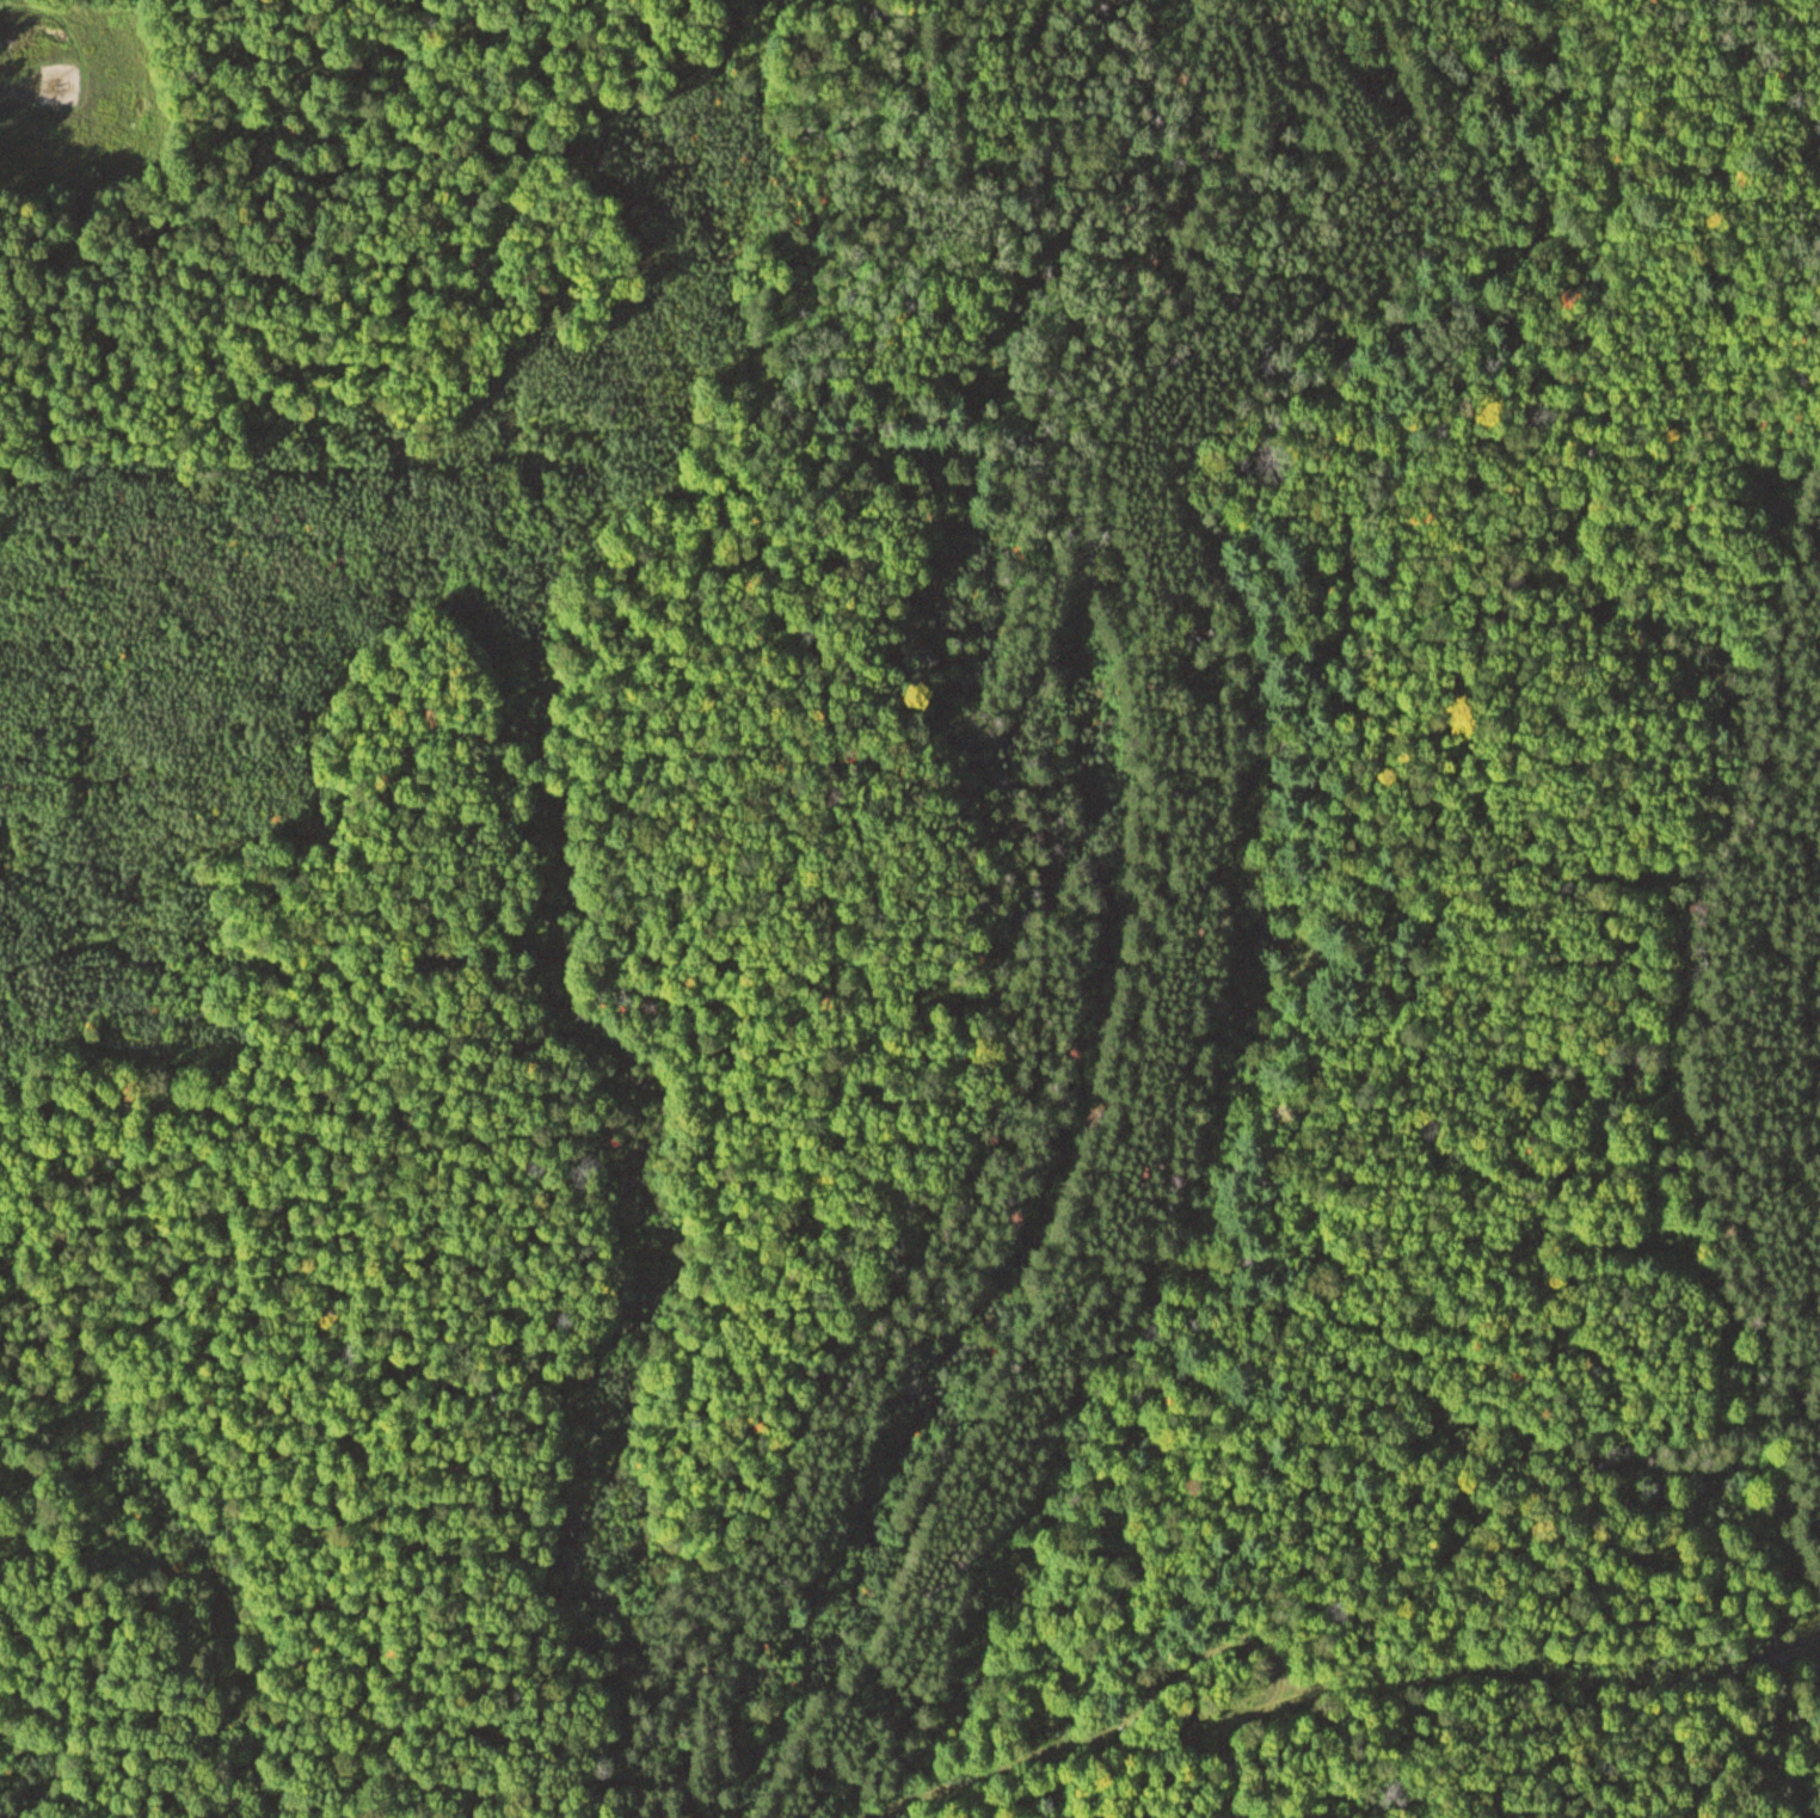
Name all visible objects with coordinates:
road: (1334, 1691)

